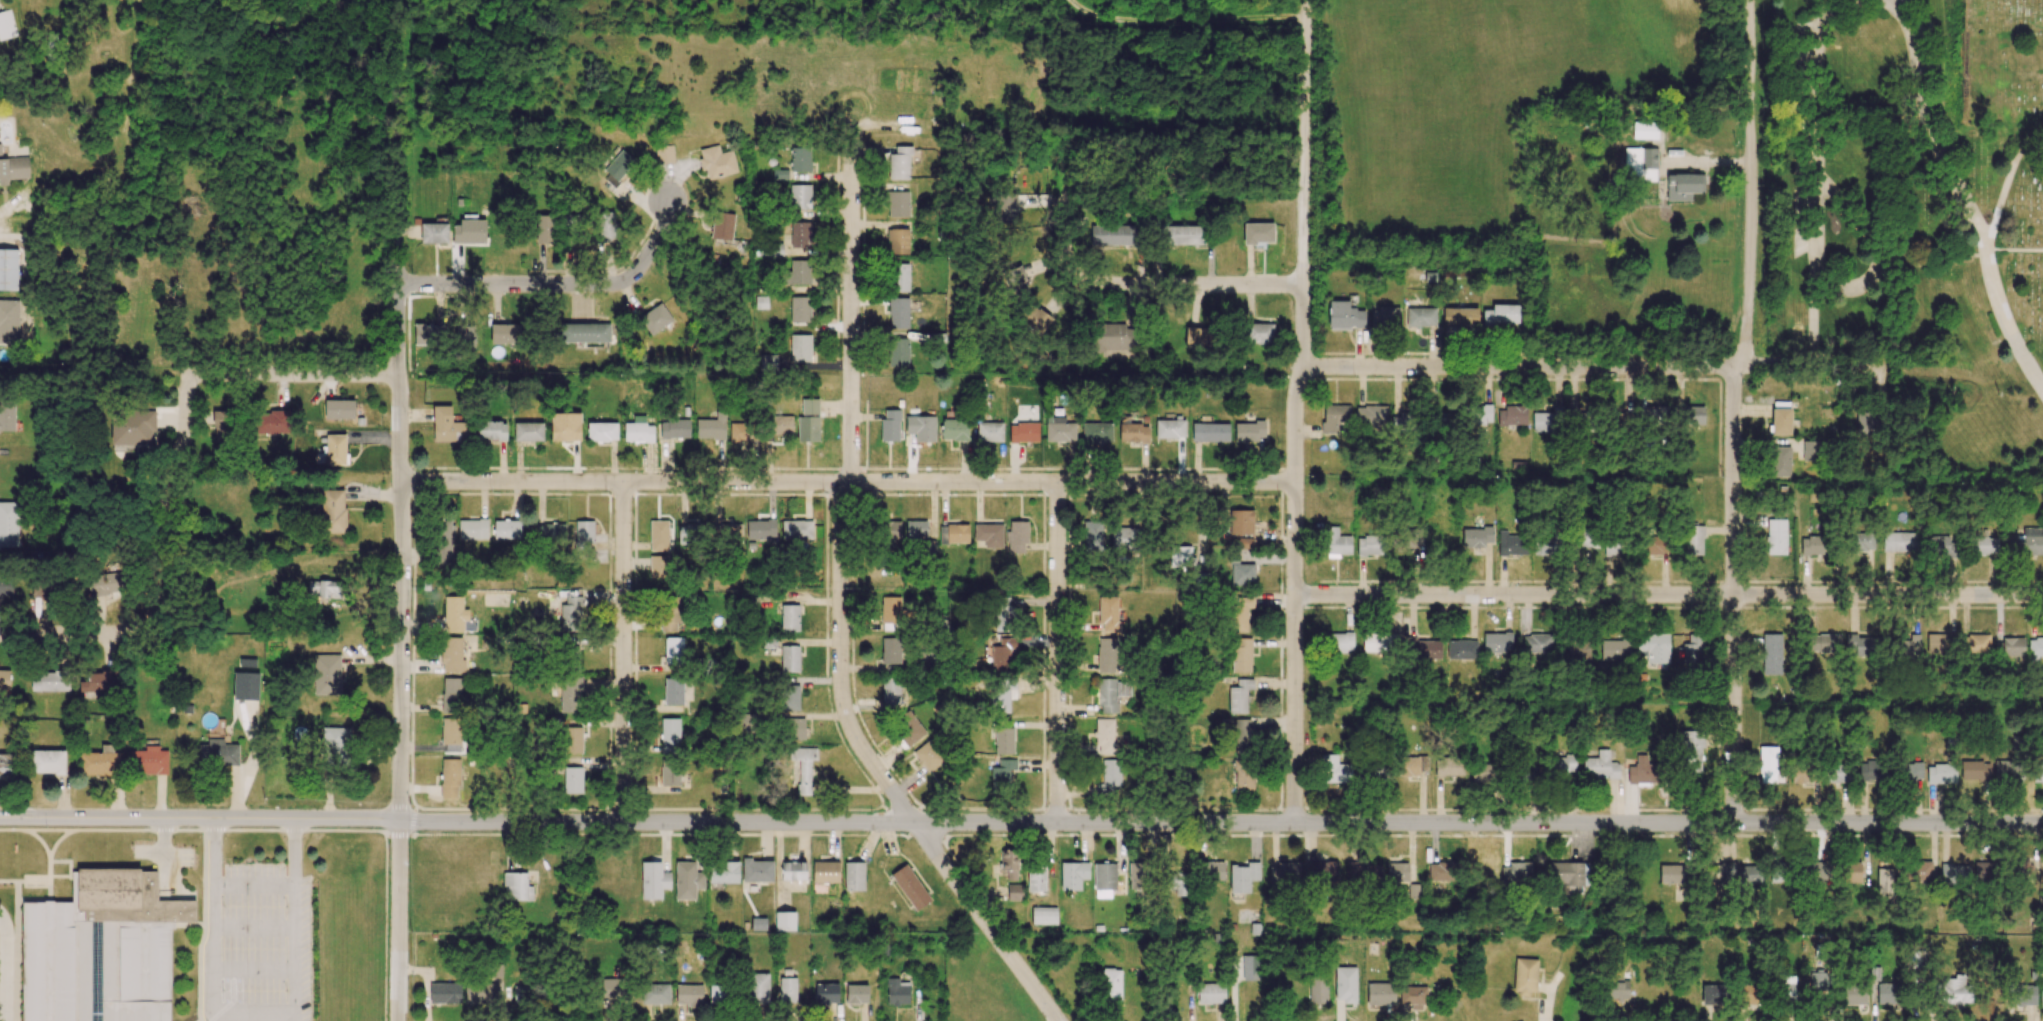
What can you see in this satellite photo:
building: (6, 25)
road: (892, 128)
building: (1644, 130)
building: (664, 154)
building: (800, 159)
building: (717, 162)
building: (899, 163)
building: (1640, 164)
building: (13, 168)
building: (617, 168)
road: (1817, 169)
road: (1956, 184)
building: (1683, 186)
road: (2006, 188)
road: (1067, 191)
building: (800, 196)
building: (898, 204)
building: (1004, 207)
park: (1915, 215)
building: (607, 225)
building: (722, 225)
building: (573, 228)
building: (544, 229)
building: (468, 232)
building: (433, 233)
building: (1258, 233)
building: (800, 234)
building: (1113, 234)
building: (1184, 235)
building: (898, 241)
road: (1879, 249)
building: (772, 250)
building: (8, 269)
building: (798, 273)
building: (899, 277)
building: (1017, 281)
road: (552, 284)
road: (1185, 284)
building: (761, 302)
building: (800, 309)
building: (898, 313)
building: (1501, 314)
building: (1344, 315)
building: (1385, 317)
building: (1420, 317)
building: (655, 318)
building: (1460, 318)
building: (1037, 320)
building: (9, 321)
building: (585, 332)
building: (505, 333)
building: (1258, 333)
building: (426, 334)
building: (1113, 337)
building: (1196, 337)
building: (464, 338)
building: (800, 348)
building: (899, 352)
building: (767, 362)
road: (1517, 366)
road: (2033, 367)
road: (288, 373)
building: (339, 409)
road: (1733, 409)
road: (1294, 411)
building: (1481, 414)
building: (1655, 414)
building: (7, 415)
building: (1371, 415)
building: (1692, 415)
building: (1511, 416)
building: (1334, 417)
building: (1618, 419)
building: (1441, 420)
building: (1548, 420)
building: (809, 421)
building: (1781, 421)
building: (273, 422)
building: (1401, 422)
building: (1866, 422)
building: (223, 425)
building: (779, 425)
building: (448, 426)
building: (890, 426)
building: (132, 427)
building: (565, 427)
building: (711, 427)
building: (921, 428)
building: (1170, 428)
building: (674, 429)
building: (954, 429)
building: (1059, 429)
building: (638, 430)
building: (491, 431)
building: (528, 431)
building: (602, 431)
building: (990, 431)
building: (1248, 431)
building: (743, 432)
building: (1023, 432)
building: (1096, 432)
building: (1133, 432)
building: (1210, 432)
building: (336, 449)
building: (1810, 450)
building: (1779, 461)
road: (847, 482)
road: (160, 507)
road: (402, 508)
building: (333, 511)
building: (1241, 522)
building: (8, 524)
building: (472, 529)
building: (506, 529)
building: (761, 529)
building: (797, 530)
building: (891, 530)
building: (916, 530)
building: (584, 532)
building: (550, 533)
building: (729, 533)
building: (689, 534)
building: (954, 534)
building: (658, 535)
building: (989, 535)
building: (1017, 536)
building: (1776, 536)
building: (1092, 537)
building: (1410, 537)
building: (1476, 537)
building: (1588, 537)
building: (1125, 538)
building: (1694, 540)
building: (2031, 540)
building: (443, 542)
building: (1862, 542)
building: (1899, 542)
building: (1244, 543)
building: (1336, 543)
building: (1982, 543)
building: (1509, 544)
building: (1370, 545)
building: (1549, 545)
building: (1615, 545)
building: (1655, 545)
building: (1812, 545)
building: (1940, 547)
building: (1181, 558)
building: (658, 566)
building: (1241, 573)
building: (102, 584)
building: (6, 585)
building: (45, 588)
building: (323, 589)
road: (1668, 595)
road: (840, 607)
building: (889, 610)
building: (670, 613)
building: (1239, 613)
building: (454, 614)
building: (570, 614)
building: (1002, 614)
building: (1108, 614)
building: (789, 617)
road: (71, 633)
building: (1337, 642)
building: (1378, 642)
building: (1497, 642)
building: (1824, 643)
building: (1939, 643)
building: (1976, 643)
building: (1537, 644)
building: (1861, 646)
building: (1908, 646)
building: (1653, 647)
building: (2008, 647)
building: (2035, 647)
building: (1422, 648)
building: (1462, 649)
building: (1615, 649)
building: (890, 650)
road: (622, 651)
building: (673, 651)
building: (1576, 651)
building: (1693, 651)
road: (1056, 652)
building: (452, 654)
building: (1002, 654)
building: (1771, 654)
building: (1107, 655)
building: (1241, 655)
building: (789, 658)
building: (326, 674)
building: (5, 679)
building: (51, 681)
building: (98, 681)
building: (246, 686)
building: (673, 691)
building: (890, 691)
building: (570, 694)
building: (1111, 694)
building: (451, 695)
building: (1002, 695)
building: (1239, 696)
building: (789, 697)
building: (796, 728)
building: (909, 729)
building: (451, 731)
building: (670, 735)
building: (1243, 736)
building: (1102, 738)
building: (573, 740)
building: (1004, 740)
building: (335, 741)
building: (218, 752)
building: (928, 755)
building: (148, 760)
building: (47, 762)
building: (100, 762)
building: (1423, 763)
building: (5, 764)
building: (1564, 764)
building: (1768, 765)
building: (1408, 766)
building: (1449, 766)
building: (1600, 766)
building: (803, 767)
building: (1335, 770)
building: (1873, 770)
building: (1974, 770)
building: (1641, 771)
building: (2007, 771)
building: (1376, 772)
building: (1911, 772)
building: (670, 773)
building: (1483, 773)
building: (1802, 773)
building: (1839, 773)
building: (2037, 773)
building: (1527, 774)
building: (1940, 774)
building: (1001, 775)
building: (1244, 776)
building: (449, 778)
building: (1109, 778)
building: (572, 780)
road: (457, 821)
road: (1479, 823)
road: (163, 849)
building: (1008, 864)
building: (757, 870)
building: (793, 871)
building: (1212, 871)
building: (1322, 871)
building: (1443, 871)
building: (1918, 871)
building: (1983, 871)
building: (2024, 871)
building: (723, 872)
building: (825, 872)
building: (1362, 872)
building: (1515, 872)
building: (1777, 872)
building: (1850, 872)
building: (1284, 873)
building: (1673, 874)
building: (1740, 874)
building: (1954, 874)
building: (1073, 875)
building: (1485, 875)
building: (1567, 875)
building: (854, 876)
building: (1138, 876)
building: (1243, 877)
building: (1104, 879)
building: (653, 880)
building: (687, 880)
building: (1036, 880)
building: (1884, 881)
building: (1179, 884)
building: (516, 886)
building: (910, 887)
building: (1014, 892)
building: (1043, 915)
building: (785, 921)
building: (758, 923)
road: (254, 928)
building: (101, 949)
building: (1250, 967)
road: (4, 968)
building: (495, 971)
building: (1525, 976)
building: (1818, 982)
building: (1345, 984)
building: (1111, 985)
building: (758, 988)
building: (1787, 988)
building: (613, 989)
building: (1318, 989)
building: (1618, 989)
building: (787, 990)
building: (1955, 990)
building: (897, 991)
building: (444, 993)
building: (480, 993)
building: (653, 993)
building: (856, 993)
building: (1210, 993)
building: (1888, 993)
building: (718, 994)
building: (826, 994)
building: (1380, 994)
building: (1713, 994)
building: (1749, 994)
building: (1854, 994)
building: (522, 995)
building: (689, 995)
building: (2021, 995)
building: (1413, 997)
road: (253, 1013)

